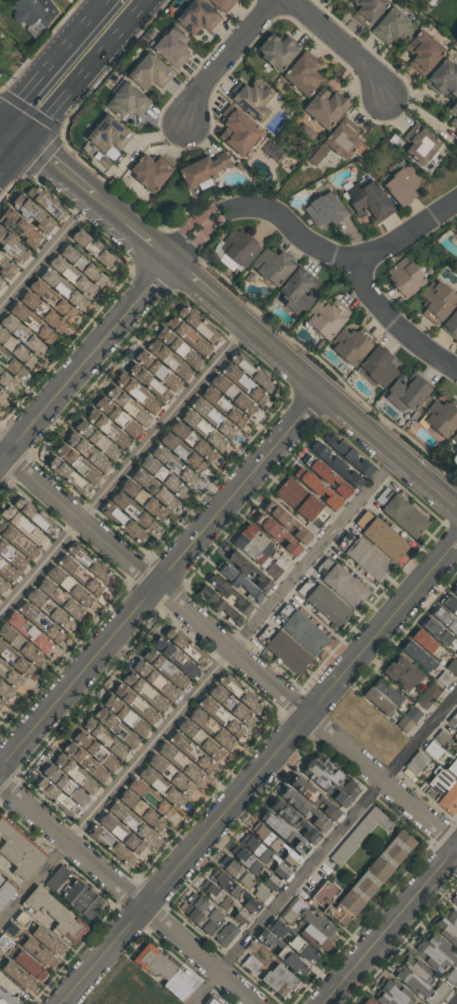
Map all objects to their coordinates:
building: (431, 2)
building: (222, 4)
building: (368, 10)
building: (32, 14)
building: (196, 16)
building: (392, 26)
building: (171, 45)
road: (339, 45)
building: (277, 50)
building: (423, 52)
road: (52, 60)
road: (222, 60)
road: (87, 71)
building: (148, 71)
building: (303, 73)
building: (443, 78)
building: (252, 99)
building: (125, 100)
building: (325, 106)
building: (453, 113)
building: (237, 131)
building: (107, 133)
road: (12, 135)
building: (337, 140)
traffic signals: (25, 143)
building: (419, 143)
building: (274, 150)
road: (12, 157)
road: (63, 167)
building: (203, 167)
building: (148, 171)
building: (401, 184)
building: (366, 198)
building: (51, 202)
road: (112, 209)
building: (324, 209)
building: (40, 215)
building: (20, 229)
building: (456, 230)
building: (455, 234)
road: (150, 240)
building: (455, 240)
road: (311, 241)
building: (17, 246)
building: (239, 247)
building: (98, 249)
road: (49, 253)
building: (87, 266)
building: (271, 266)
building: (6, 268)
building: (405, 276)
road: (195, 279)
building: (78, 280)
building: (1, 283)
building: (69, 289)
building: (297, 290)
building: (436, 301)
building: (59, 302)
building: (48, 314)
building: (326, 317)
building: (35, 323)
building: (204, 325)
road: (396, 325)
building: (451, 325)
building: (30, 338)
building: (185, 339)
building: (351, 344)
building: (170, 345)
building: (18, 352)
building: (172, 358)
road: (86, 360)
building: (377, 366)
building: (11, 367)
building: (150, 368)
building: (254, 373)
building: (5, 381)
building: (146, 381)
building: (235, 383)
building: (406, 391)
building: (1, 395)
building: (144, 395)
building: (238, 397)
road: (336, 403)
building: (217, 408)
building: (137, 409)
building: (109, 415)
building: (441, 416)
building: (204, 417)
building: (114, 430)
building: (197, 432)
building: (90, 439)
building: (454, 439)
building: (198, 442)
building: (345, 453)
building: (95, 454)
building: (190, 457)
building: (334, 464)
building: (177, 465)
building: (86, 466)
road: (124, 473)
building: (65, 476)
building: (168, 478)
building: (329, 478)
building: (315, 487)
building: (159, 488)
building: (298, 498)
building: (148, 502)
building: (400, 512)
building: (40, 516)
building: (141, 516)
building: (285, 521)
building: (123, 525)
building: (16, 527)
building: (276, 533)
building: (381, 536)
building: (6, 540)
building: (1, 543)
building: (259, 550)
building: (363, 556)
building: (15, 561)
building: (91, 565)
building: (67, 567)
building: (248, 570)
building: (7, 574)
road: (161, 580)
building: (238, 582)
building: (341, 582)
building: (2, 586)
building: (92, 587)
building: (74, 588)
building: (455, 588)
building: (46, 589)
building: (229, 594)
building: (64, 595)
building: (450, 602)
building: (324, 603)
building: (219, 606)
building: (70, 609)
building: (54, 611)
building: (31, 621)
building: (441, 625)
building: (301, 629)
building: (22, 634)
building: (425, 640)
building: (181, 644)
building: (20, 646)
road: (229, 648)
building: (284, 649)
building: (456, 652)
building: (419, 655)
building: (165, 657)
building: (17, 663)
building: (453, 666)
building: (405, 669)
building: (158, 670)
building: (396, 677)
building: (445, 677)
building: (10, 678)
building: (146, 678)
building: (233, 683)
road: (199, 689)
building: (385, 692)
building: (4, 693)
building: (138, 693)
building: (427, 695)
building: (376, 700)
building: (248, 702)
building: (0, 704)
building: (125, 704)
building: (235, 706)
building: (117, 714)
building: (210, 715)
building: (407, 719)
building: (90, 727)
building: (120, 727)
building: (456, 728)
building: (203, 729)
building: (103, 730)
building: (204, 742)
building: (114, 747)
building: (181, 751)
building: (88, 752)
building: (90, 762)
building: (415, 762)
building: (172, 763)
building: (453, 766)
road: (259, 772)
building: (82, 776)
building: (174, 776)
building: (327, 778)
building: (57, 786)
building: (167, 790)
building: (450, 793)
building: (312, 797)
building: (156, 799)
building: (52, 801)
building: (302, 809)
building: (141, 812)
building: (133, 821)
building: (292, 821)
building: (282, 833)
building: (358, 834)
building: (127, 836)
building: (273, 845)
building: (110, 846)
road: (325, 849)
building: (18, 852)
building: (263, 856)
building: (253, 866)
building: (56, 877)
building: (242, 878)
building: (0, 879)
building: (361, 881)
building: (233, 891)
building: (5, 892)
road: (129, 892)
building: (79, 898)
building: (454, 899)
building: (223, 902)
building: (291, 909)
building: (247, 910)
building: (53, 913)
building: (199, 913)
road: (391, 926)
building: (447, 926)
building: (315, 929)
building: (275, 933)
building: (225, 934)
building: (49, 940)
building: (285, 942)
building: (40, 952)
building: (288, 955)
building: (437, 956)
building: (254, 959)
building: (30, 964)
building: (159, 970)
building: (20, 975)
building: (277, 980)
building: (418, 980)
building: (392, 993)
building: (8, 997)
building: (213, 1000)
building: (369, 1001)
road: (456, 1003)

